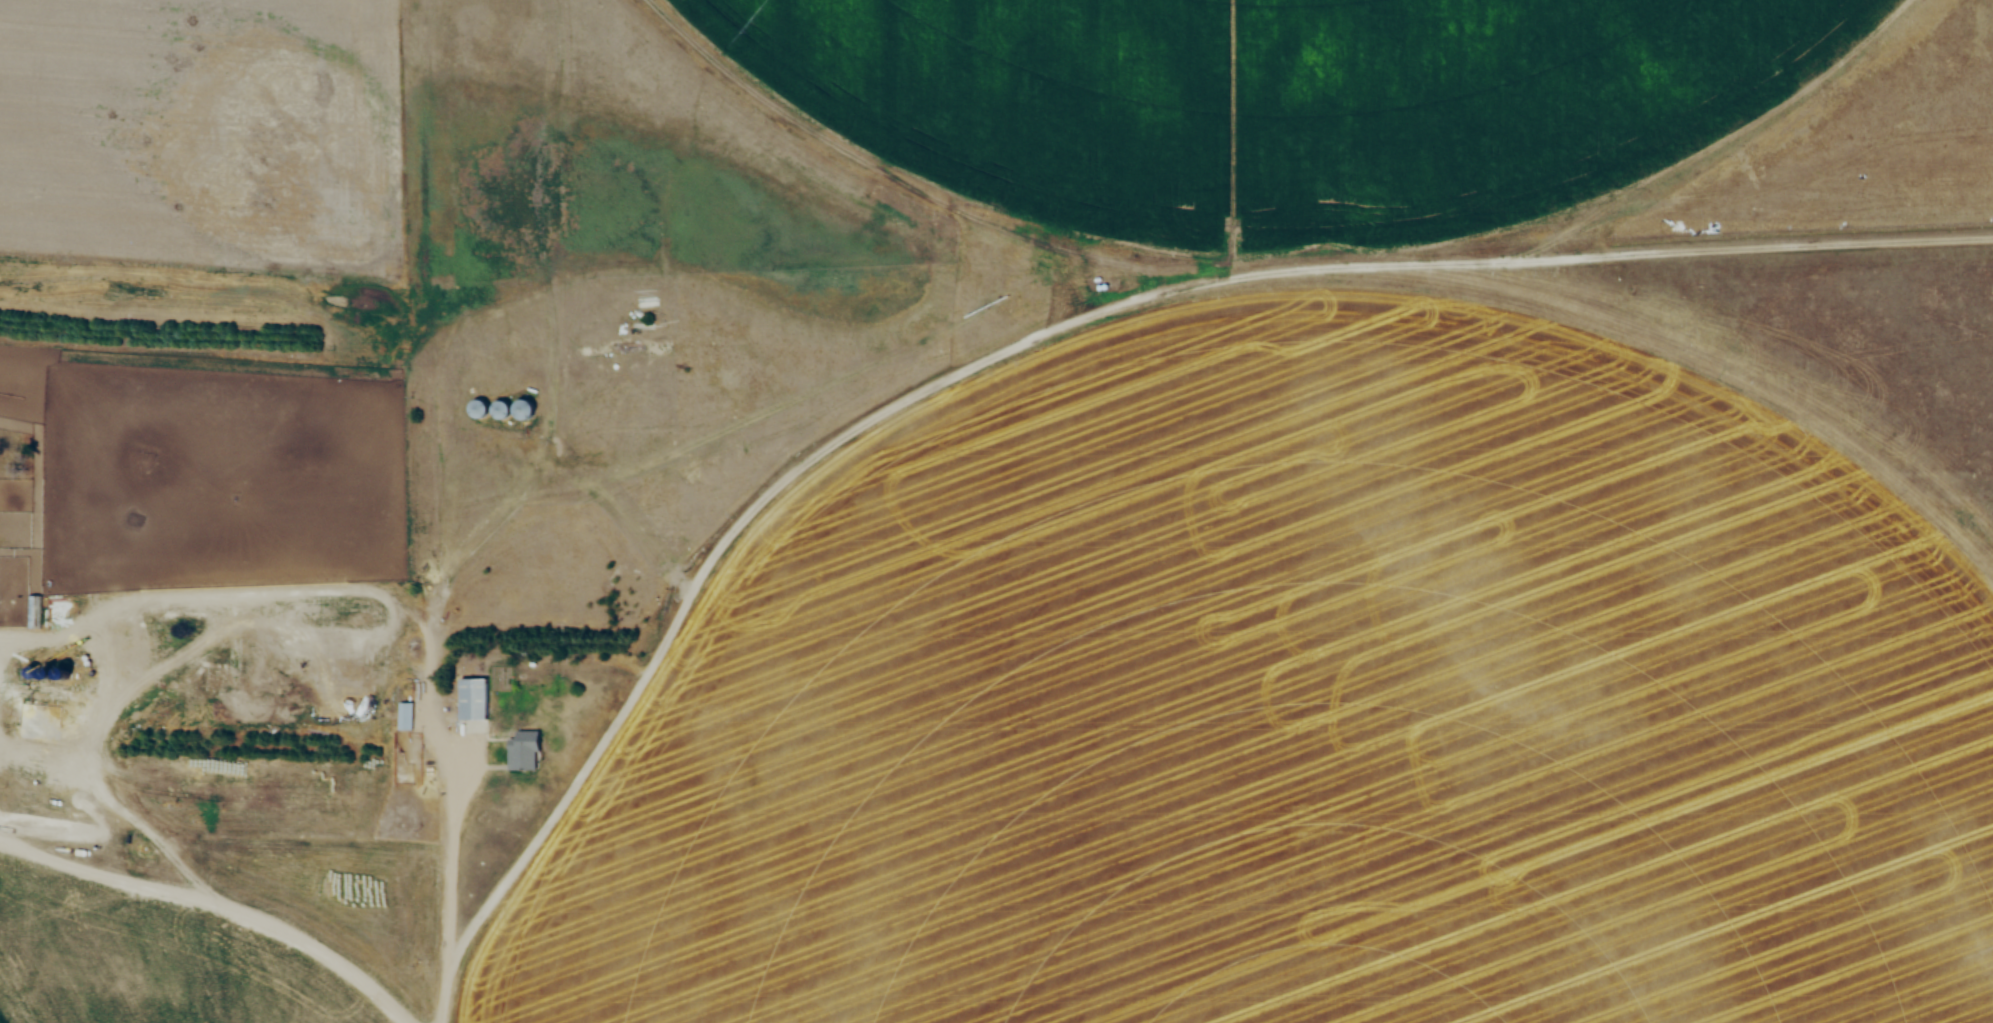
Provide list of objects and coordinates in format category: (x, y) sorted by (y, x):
building: (479, 408)
building: (502, 409)
building: (525, 409)
building: (33, 611)
building: (473, 699)
building: (405, 716)
building: (523, 751)
building: (154, 814)
road: (220, 902)

